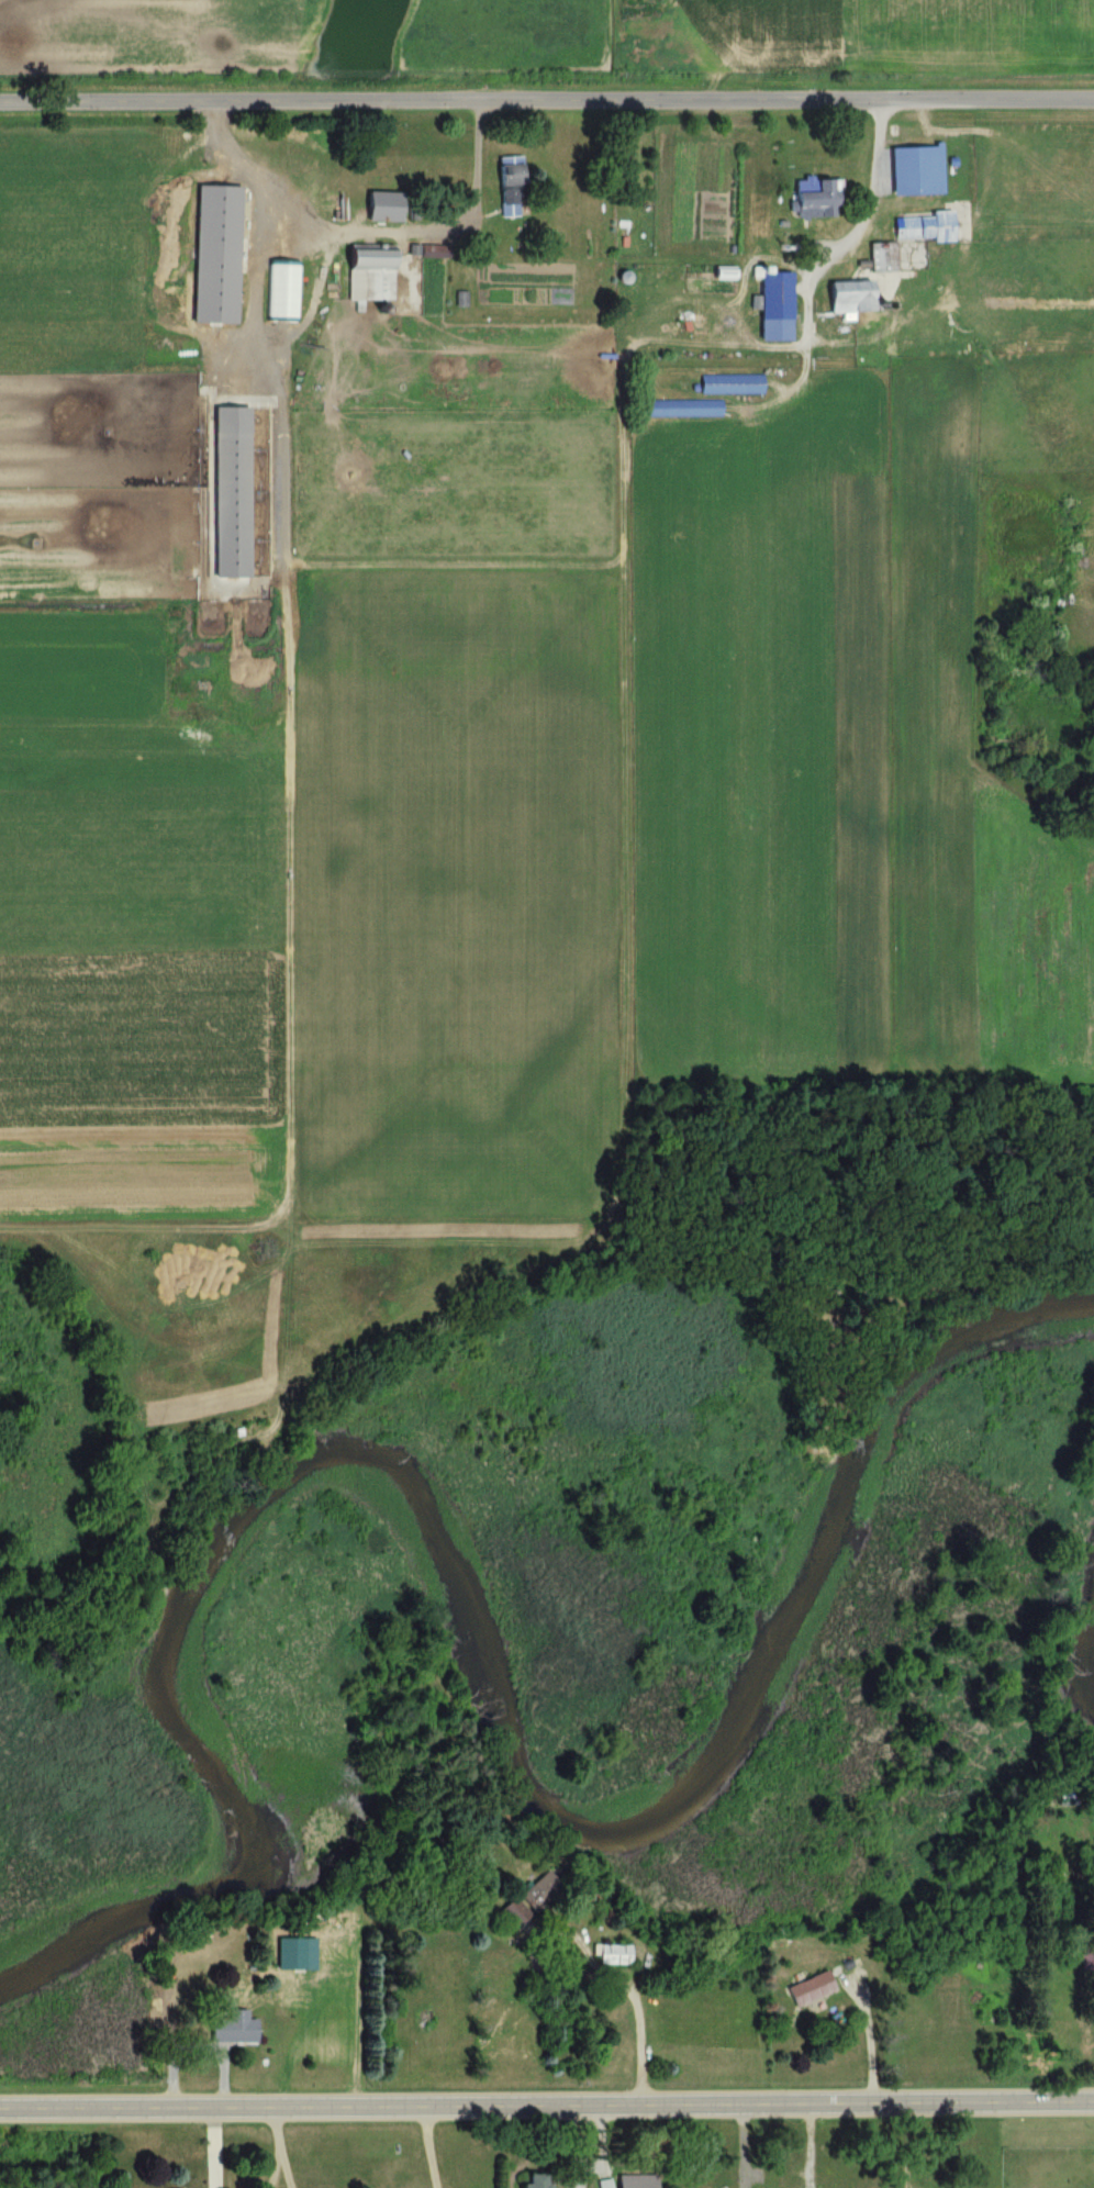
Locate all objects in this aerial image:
building: (1083, 15)
crop: (515, 33)
road: (546, 94)
building: (913, 170)
building: (503, 187)
building: (811, 201)
building: (377, 206)
building: (919, 227)
road: (367, 234)
building: (880, 257)
building: (365, 272)
building: (847, 300)
building: (771, 305)
building: (730, 384)
building: (683, 409)
river: (461, 1606)
river: (1091, 1670)
building: (529, 1900)
building: (612, 1956)
road: (624, 1983)
building: (1091, 1986)
building: (810, 1991)
building: (233, 2030)
road: (866, 2031)
road: (546, 2098)
road: (277, 2130)
road: (429, 2144)
road: (273, 2173)
road: (286, 2173)
building: (533, 2181)
building: (633, 2184)

